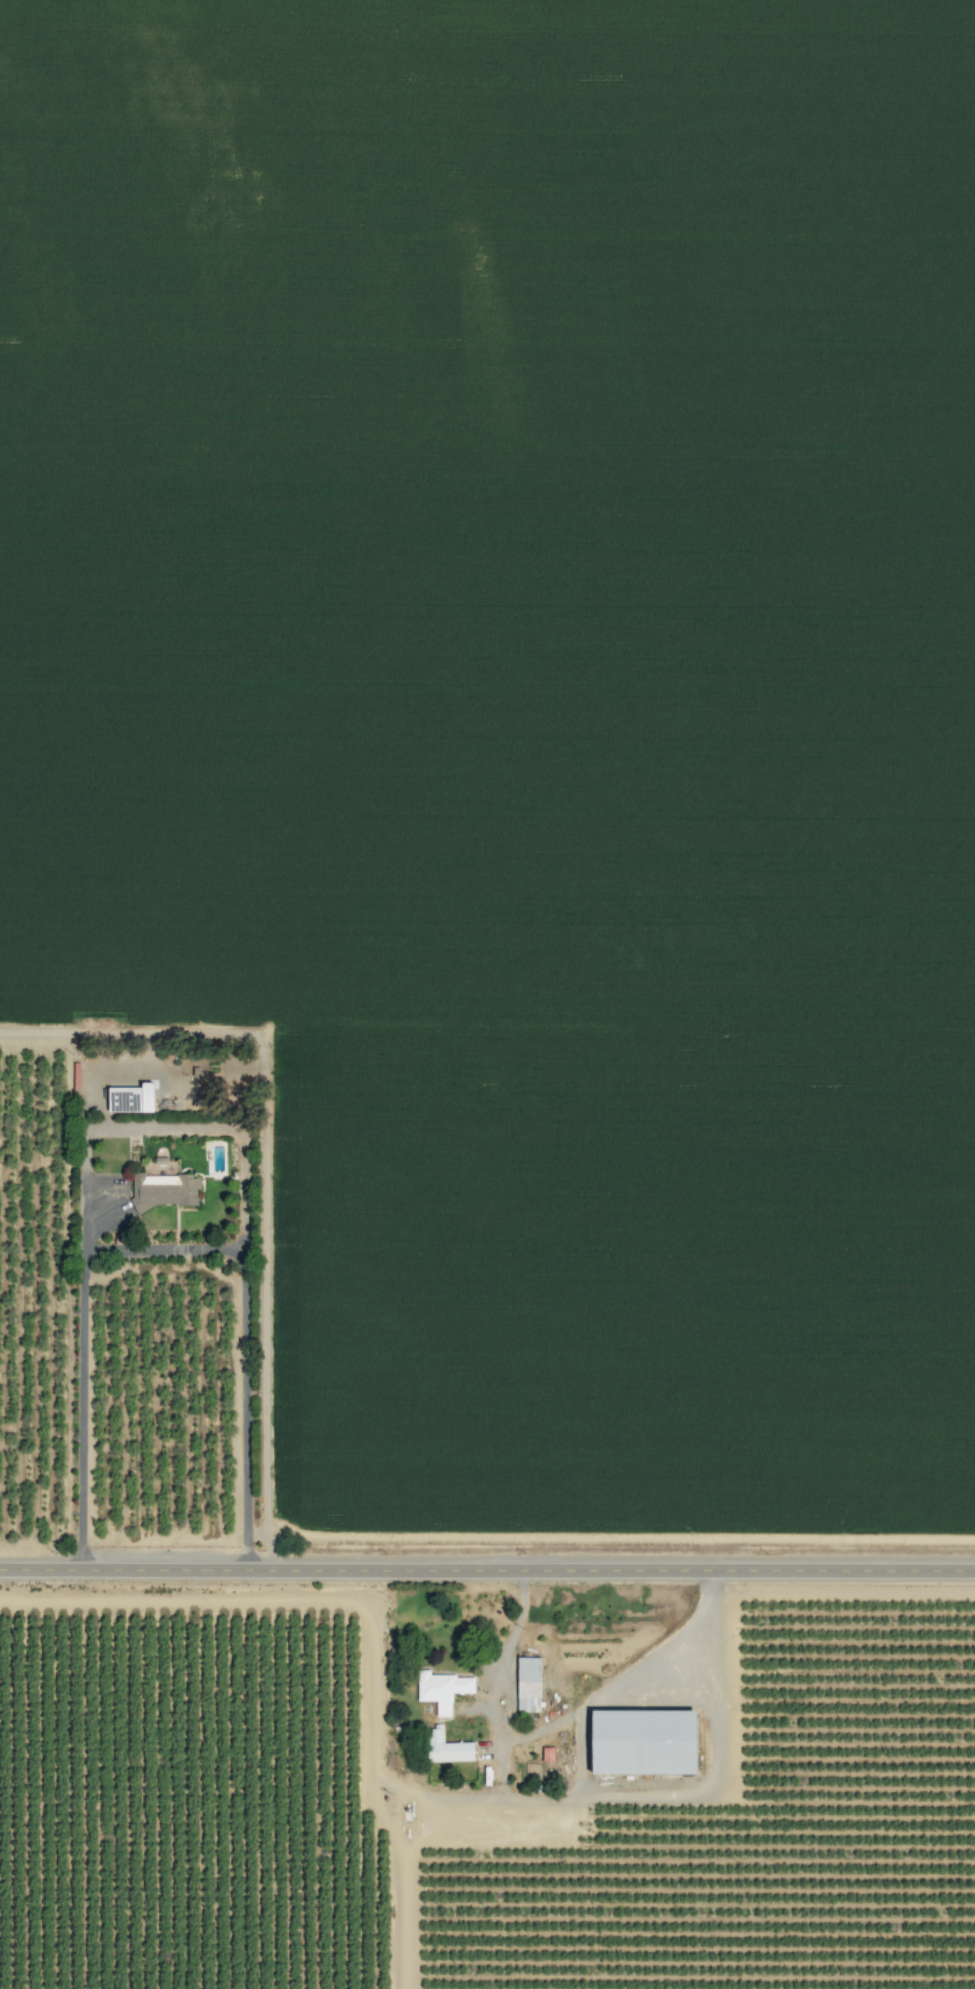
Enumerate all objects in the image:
building: (119, 1100)
road: (162, 1129)
building: (163, 1191)
road: (164, 1249)
road: (487, 1572)
building: (525, 1686)
building: (440, 1690)
road: (556, 1723)
building: (638, 1742)
building: (445, 1748)
building: (546, 1754)

